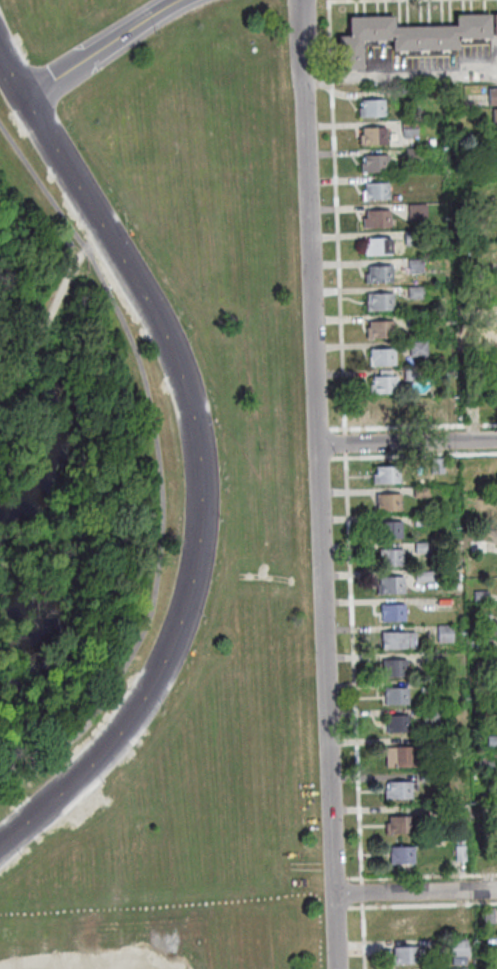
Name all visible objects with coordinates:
building: (494, 27)
building: (406, 39)
road: (100, 48)
road: (401, 78)
building: (492, 99)
building: (372, 111)
building: (495, 120)
building: (409, 130)
building: (373, 138)
building: (495, 144)
building: (413, 157)
building: (374, 166)
building: (376, 192)
building: (417, 214)
building: (376, 220)
road: (336, 228)
building: (412, 240)
building: (62, 242)
building: (378, 249)
building: (415, 268)
building: (483, 273)
building: (379, 277)
building: (415, 294)
building: (379, 303)
road: (51, 308)
building: (413, 322)
building: (380, 332)
building: (418, 351)
building: (382, 359)
building: (411, 376)
building: (383, 387)
building: (384, 412)
building: (444, 417)
road: (420, 425)
road: (405, 442)
road: (195, 460)
road: (157, 462)
building: (437, 468)
building: (385, 477)
road: (316, 484)
park: (143, 494)
building: (421, 494)
building: (388, 504)
building: (421, 522)
building: (389, 533)
building: (422, 550)
building: (390, 561)
building: (423, 578)
building: (390, 588)
building: (480, 598)
building: (392, 615)
building: (481, 622)
building: (445, 636)
road: (351, 637)
building: (393, 643)
building: (483, 646)
building: (432, 663)
building: (483, 670)
building: (394, 671)
building: (427, 689)
building: (396, 699)
building: (430, 718)
building: (485, 719)
building: (396, 727)
building: (492, 743)
building: (431, 744)
building: (401, 761)
building: (485, 769)
building: (427, 778)
building: (398, 794)
building: (492, 794)
parking lot: (81, 804)
building: (487, 816)
building: (398, 827)
building: (460, 856)
building: (401, 858)
road: (421, 875)
road: (339, 877)
road: (414, 891)
road: (421, 904)
road: (340, 907)
building: (488, 915)
building: (404, 925)
building: (457, 948)
building: (490, 953)
building: (403, 955)
building: (458, 968)

